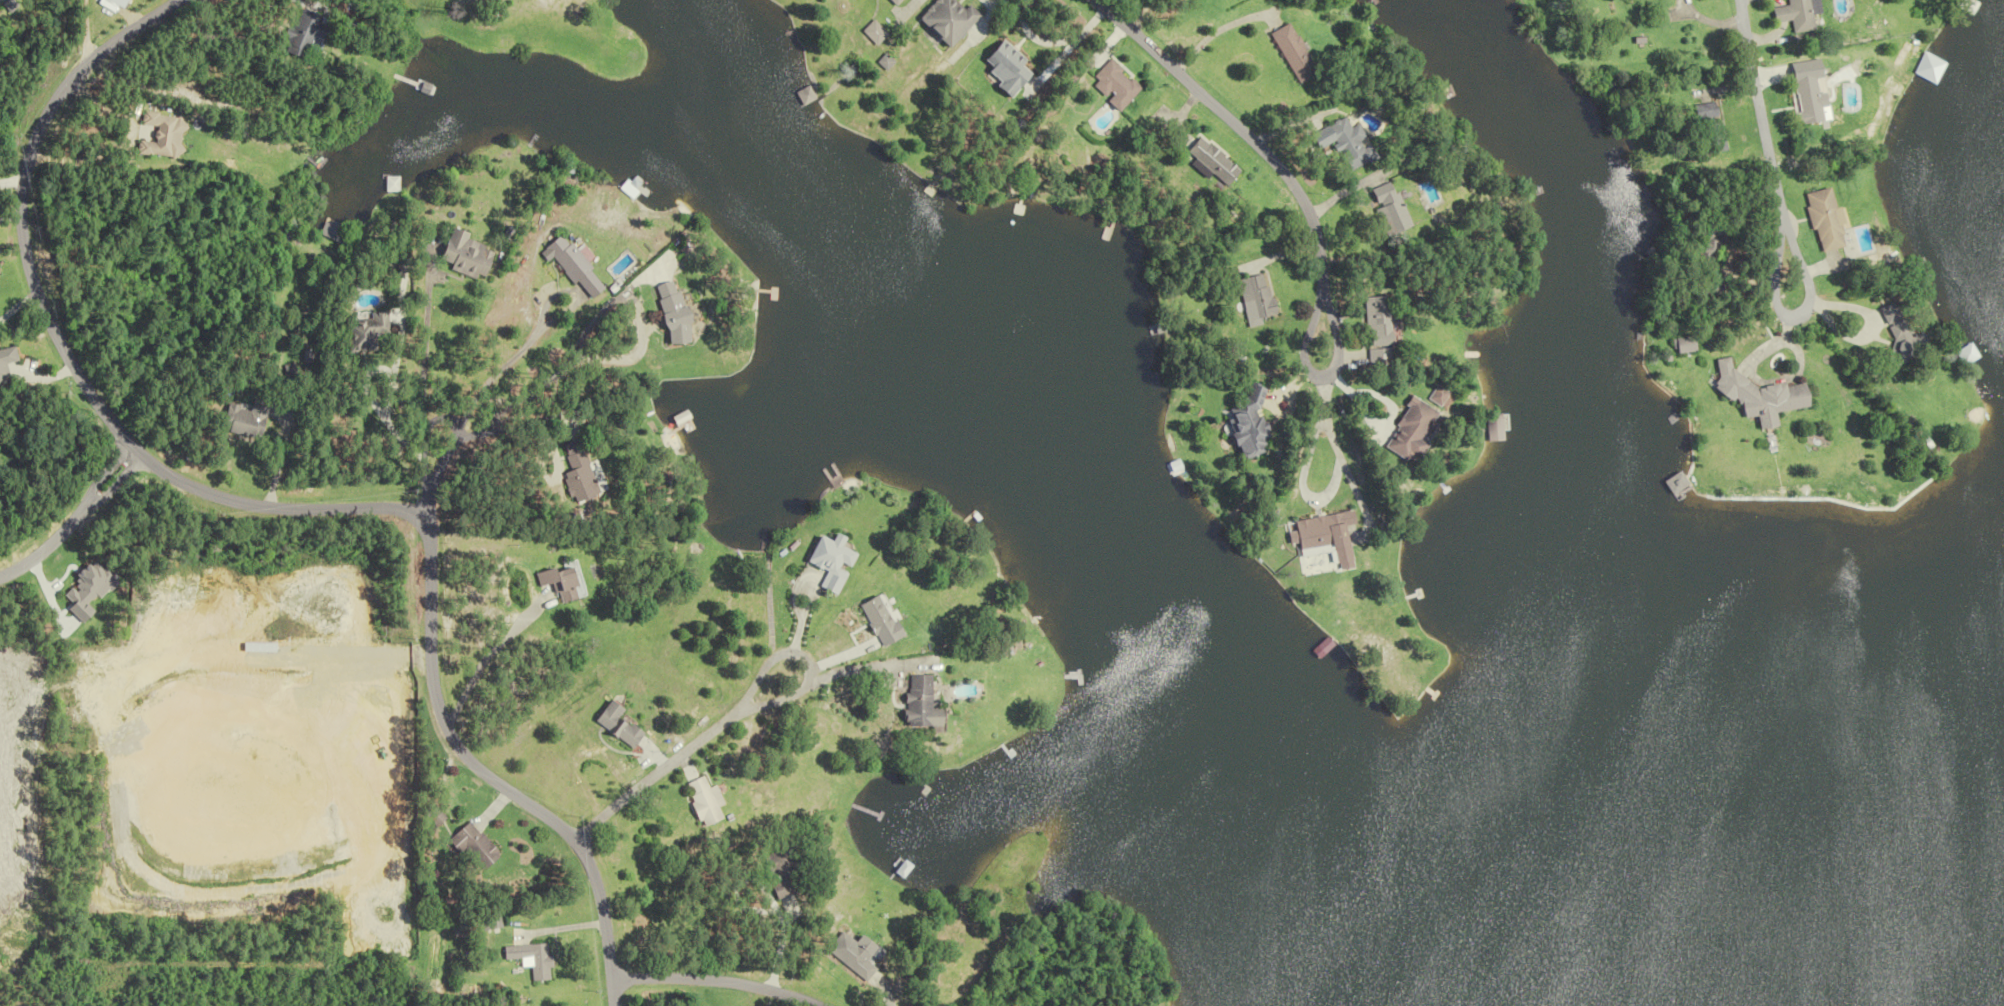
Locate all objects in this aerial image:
building: (897, 1)
road: (907, 10)
building: (1799, 14)
building: (951, 20)
road: (85, 29)
building: (309, 33)
building: (878, 34)
building: (1287, 53)
building: (1013, 68)
building: (1119, 85)
building: (1810, 100)
road: (1762, 103)
road: (1242, 127)
building: (1713, 129)
building: (167, 135)
building: (1339, 143)
building: (1210, 161)
building: (1387, 209)
building: (1826, 221)
building: (473, 255)
building: (1705, 258)
building: (580, 268)
building: (1252, 296)
road: (1784, 313)
building: (681, 314)
building: (1381, 322)
building: (371, 331)
road: (426, 346)
building: (1892, 346)
road: (68, 350)
building: (8, 365)
road: (1310, 368)
road: (562, 375)
building: (1755, 399)
building: (254, 420)
road: (465, 422)
road: (519, 424)
building: (1237, 425)
building: (1489, 428)
building: (1410, 431)
road: (107, 469)
building: (581, 472)
road: (1303, 487)
road: (427, 500)
road: (75, 515)
building: (1317, 538)
building: (820, 562)
building: (565, 583)
building: (865, 615)
road: (800, 687)
building: (911, 703)
building: (622, 724)
road: (656, 770)
road: (487, 776)
building: (708, 801)
building: (478, 844)
building: (855, 954)
building: (533, 958)
road: (715, 980)

